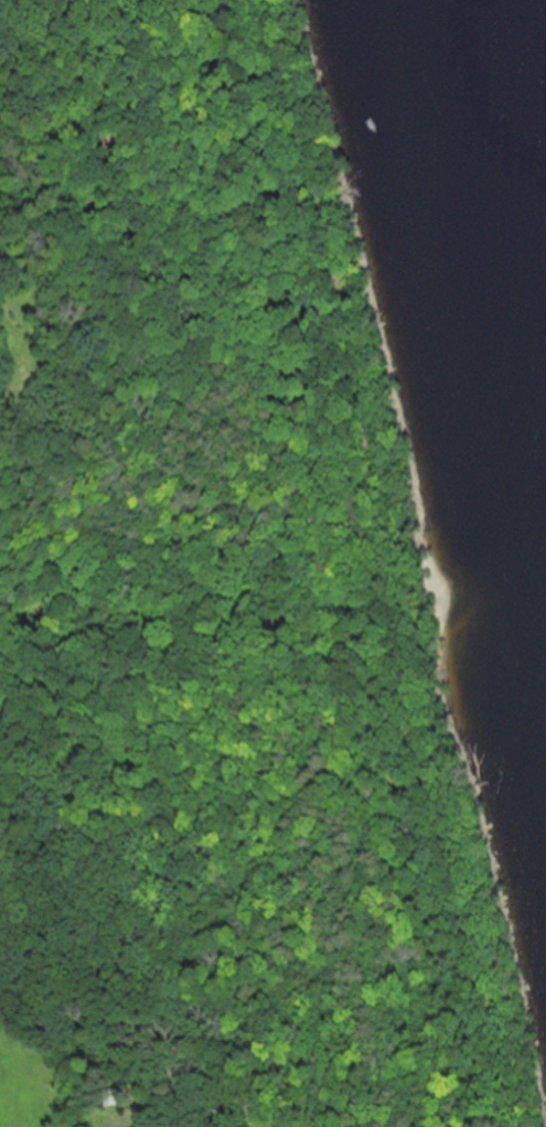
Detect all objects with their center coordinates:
road: (356, 341)
park: (220, 584)
road: (212, 733)
building: (101, 1092)

